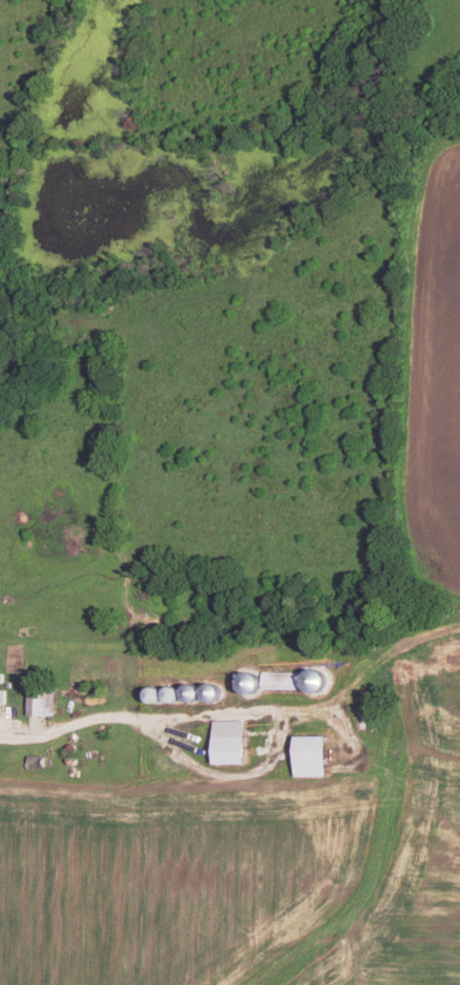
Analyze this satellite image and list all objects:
building: (3, 693)
building: (43, 698)
road: (167, 722)
building: (232, 739)
building: (315, 753)

